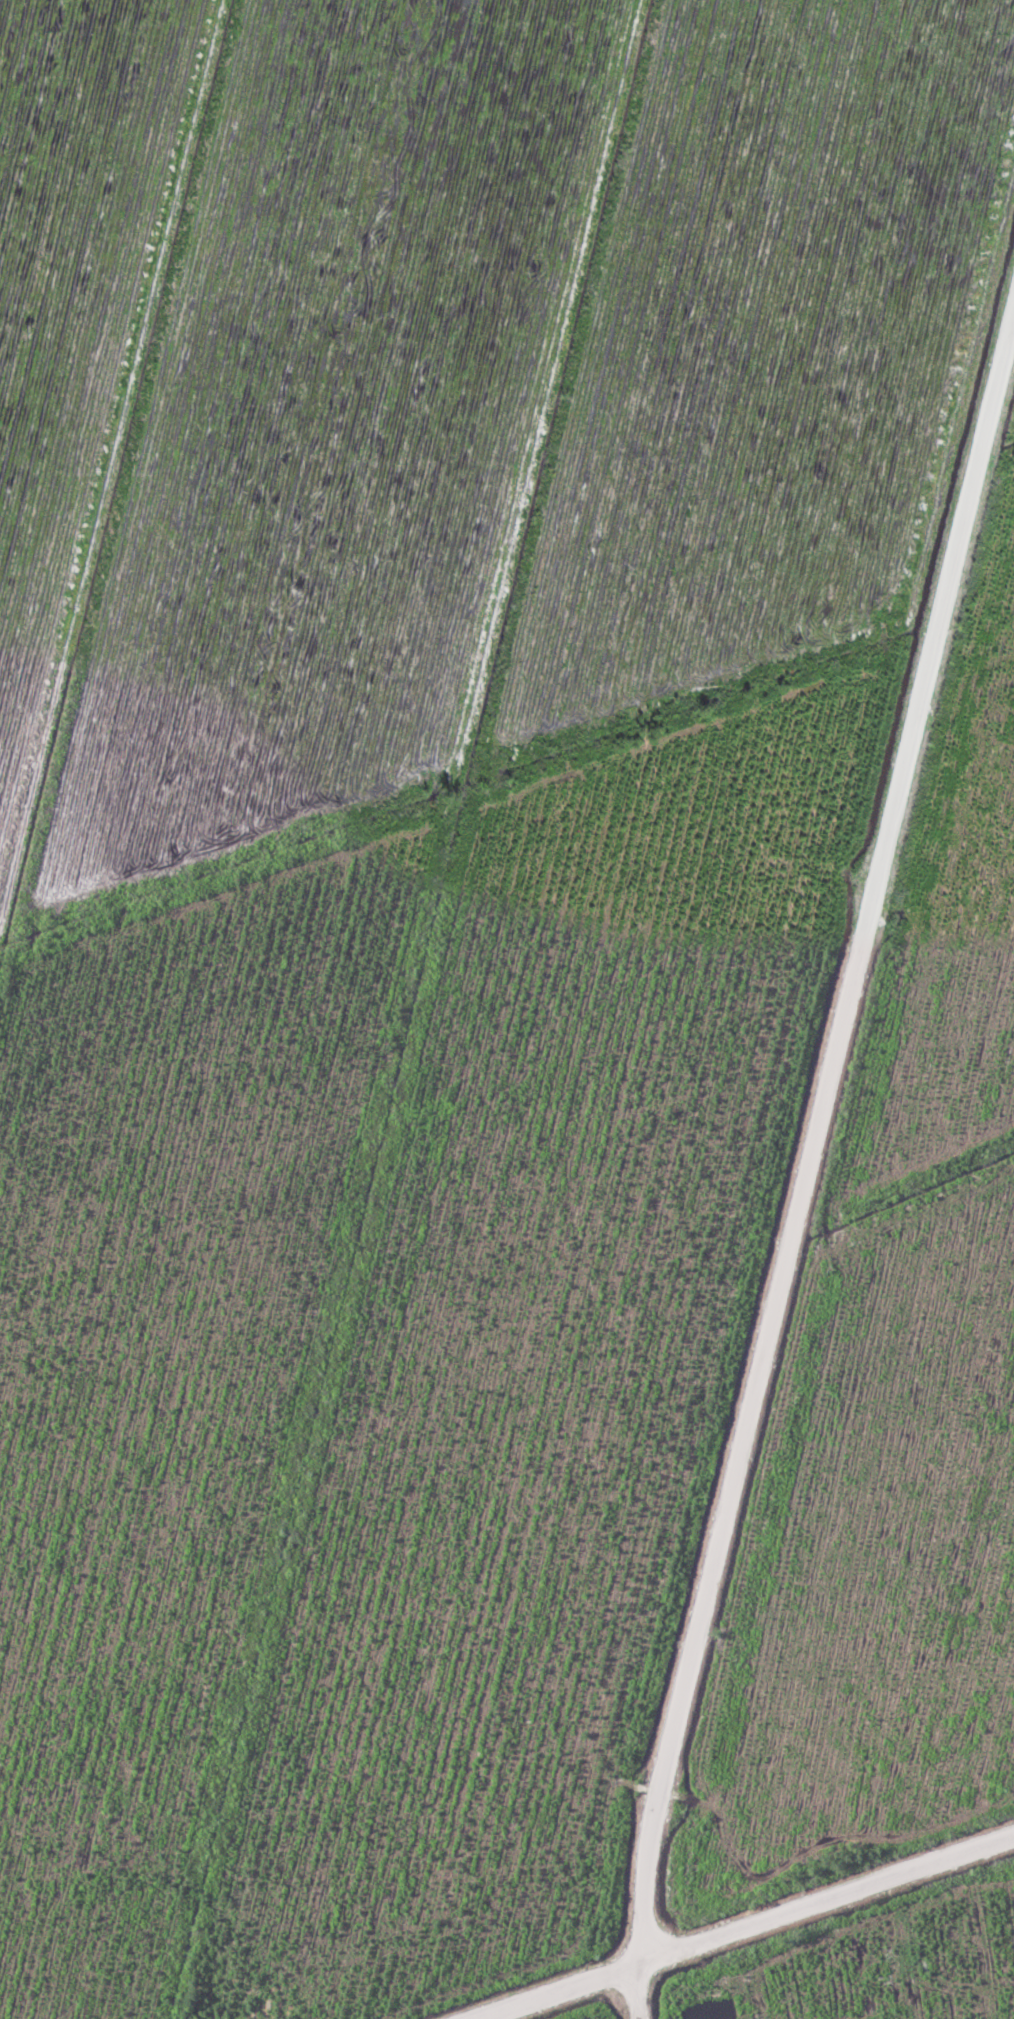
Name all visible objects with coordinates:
road: (815, 1221)

